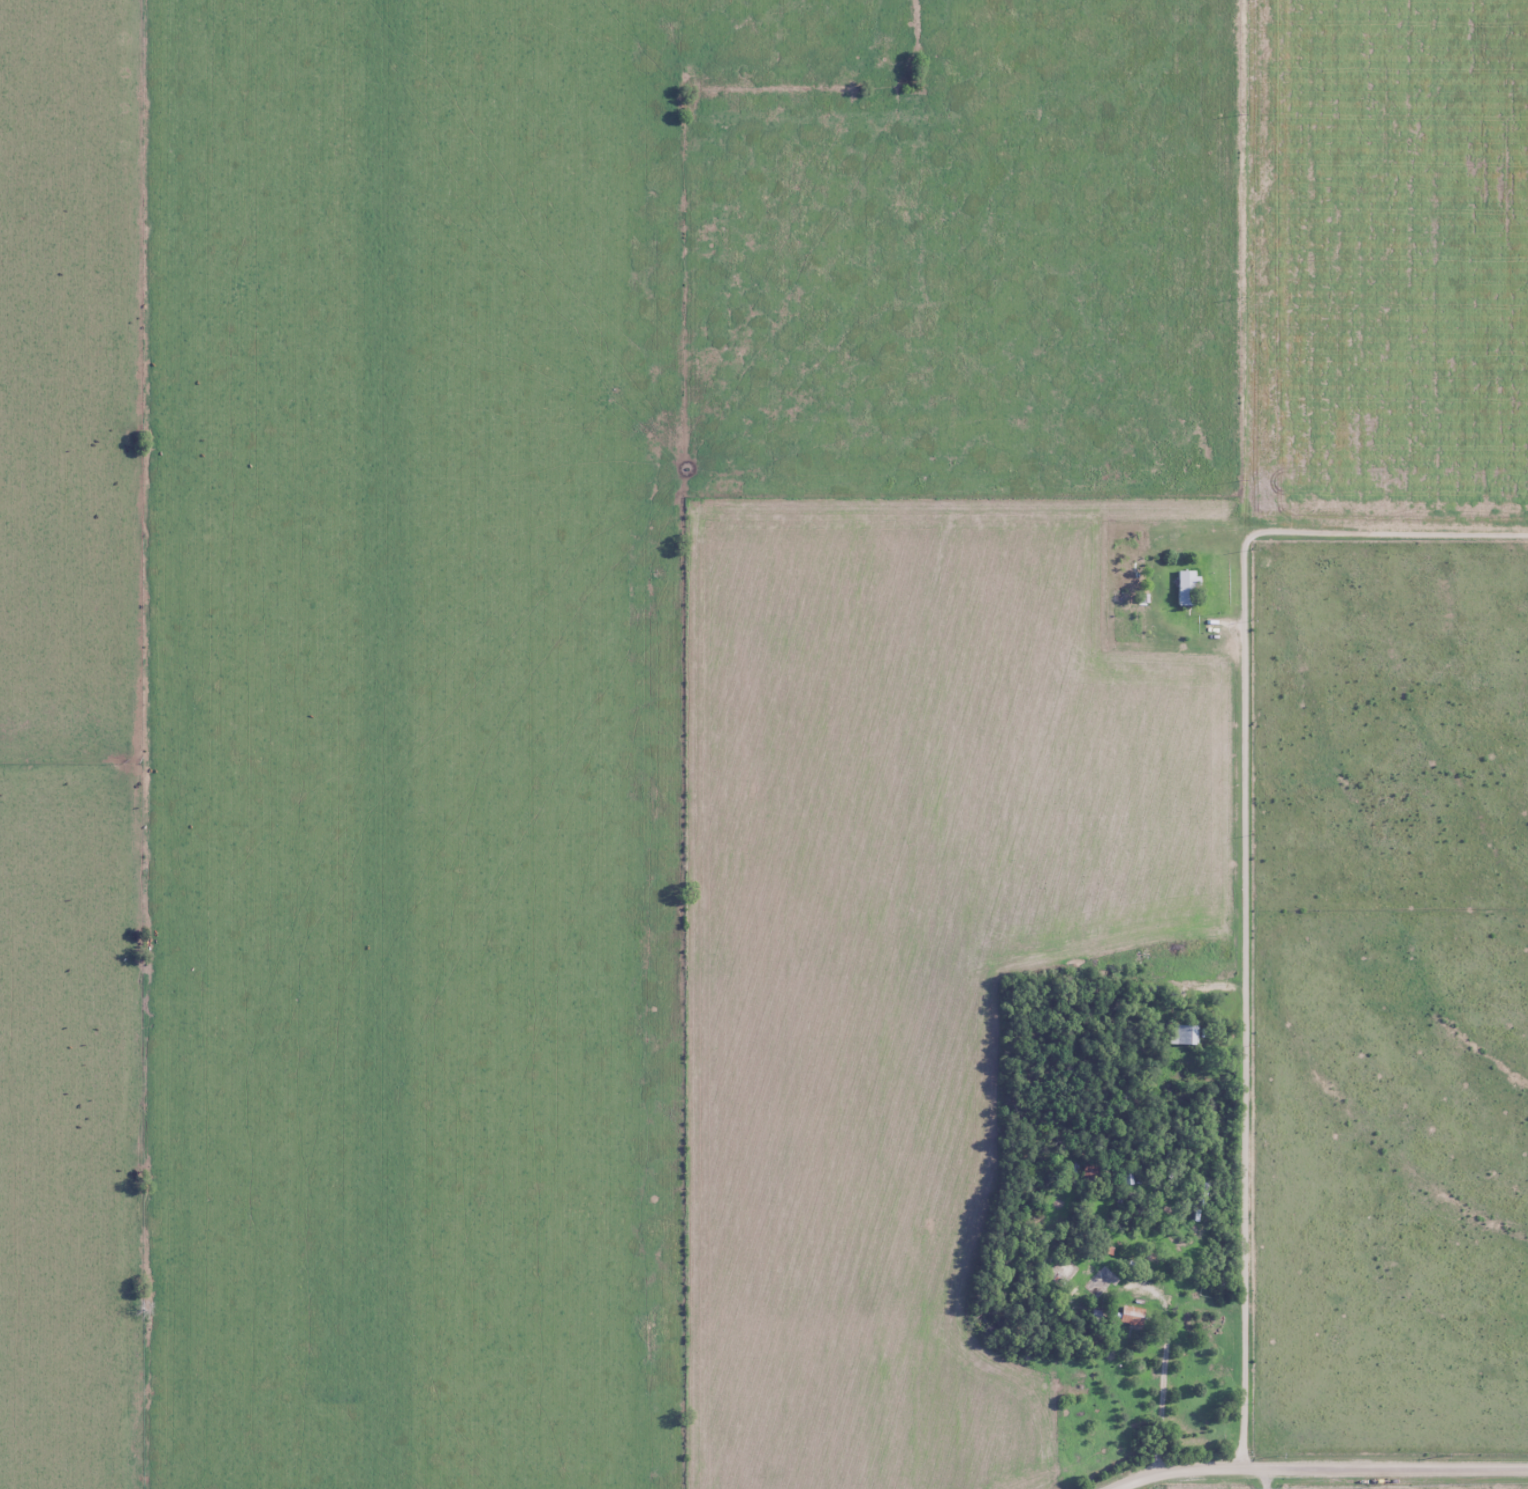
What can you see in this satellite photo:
building: (1188, 589)
road: (1244, 862)
building: (1182, 1034)
building: (1132, 1317)
road: (1037, 1398)
road: (1320, 1468)
road: (1266, 1478)

